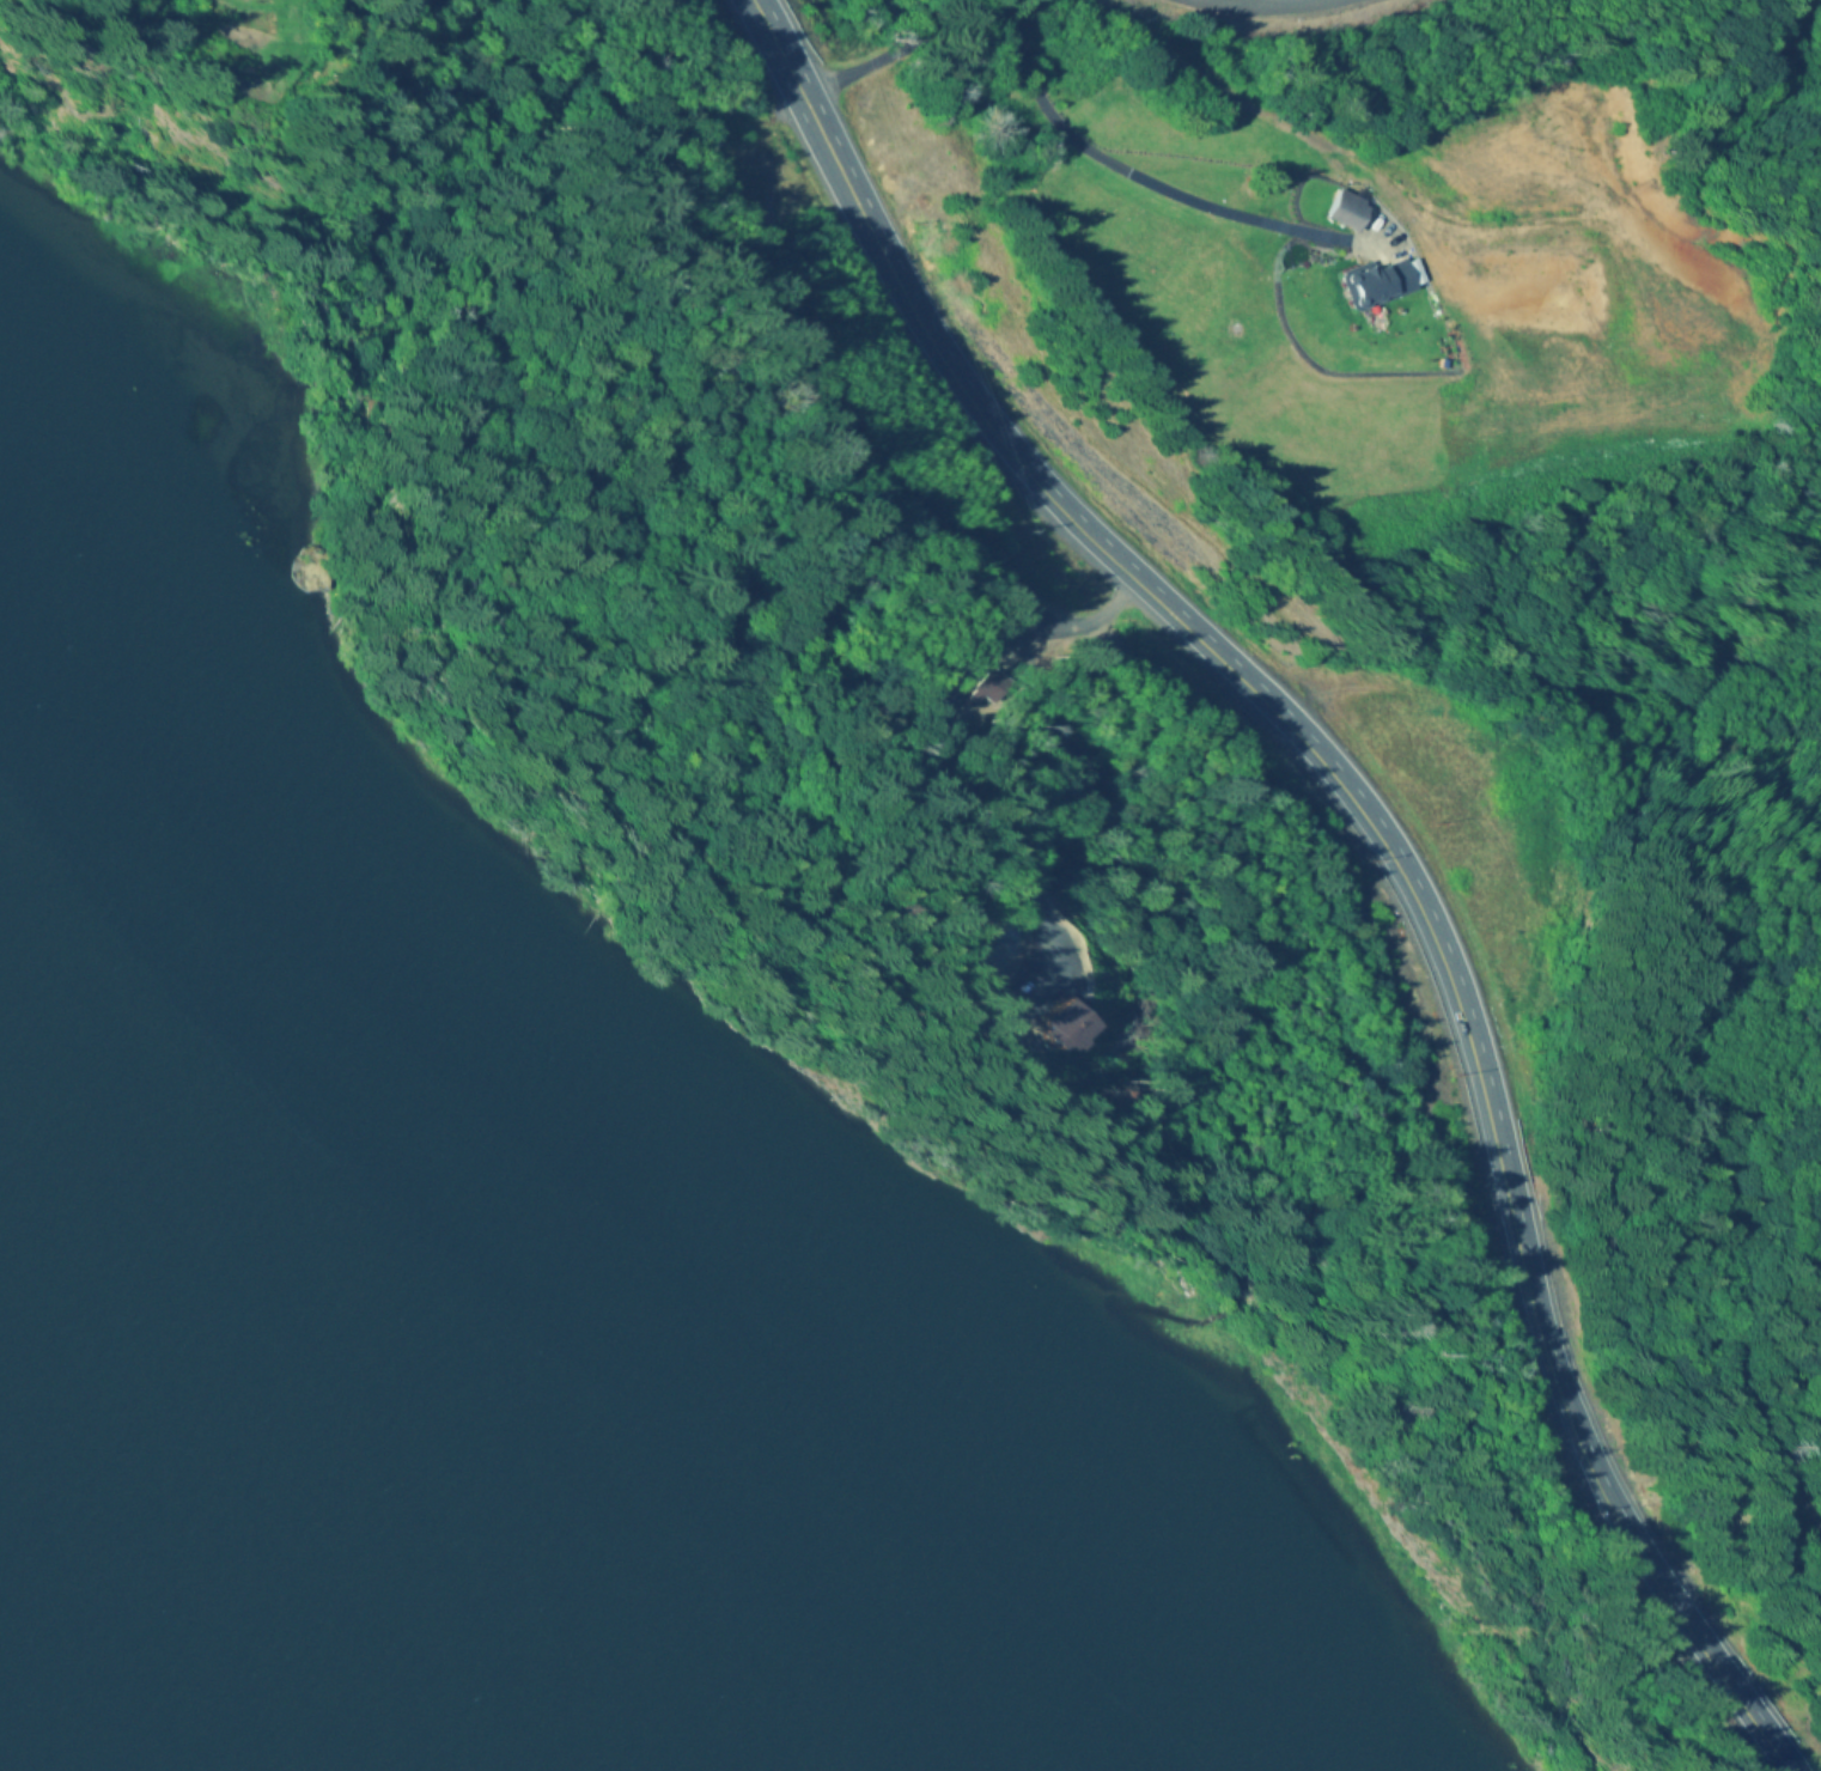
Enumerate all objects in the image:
road: (1257, 4)
road: (906, 38)
road: (864, 209)
building: (1341, 211)
building: (1374, 284)
road: (1425, 933)
building: (1076, 1028)
road: (1771, 1169)
road: (1717, 1673)

